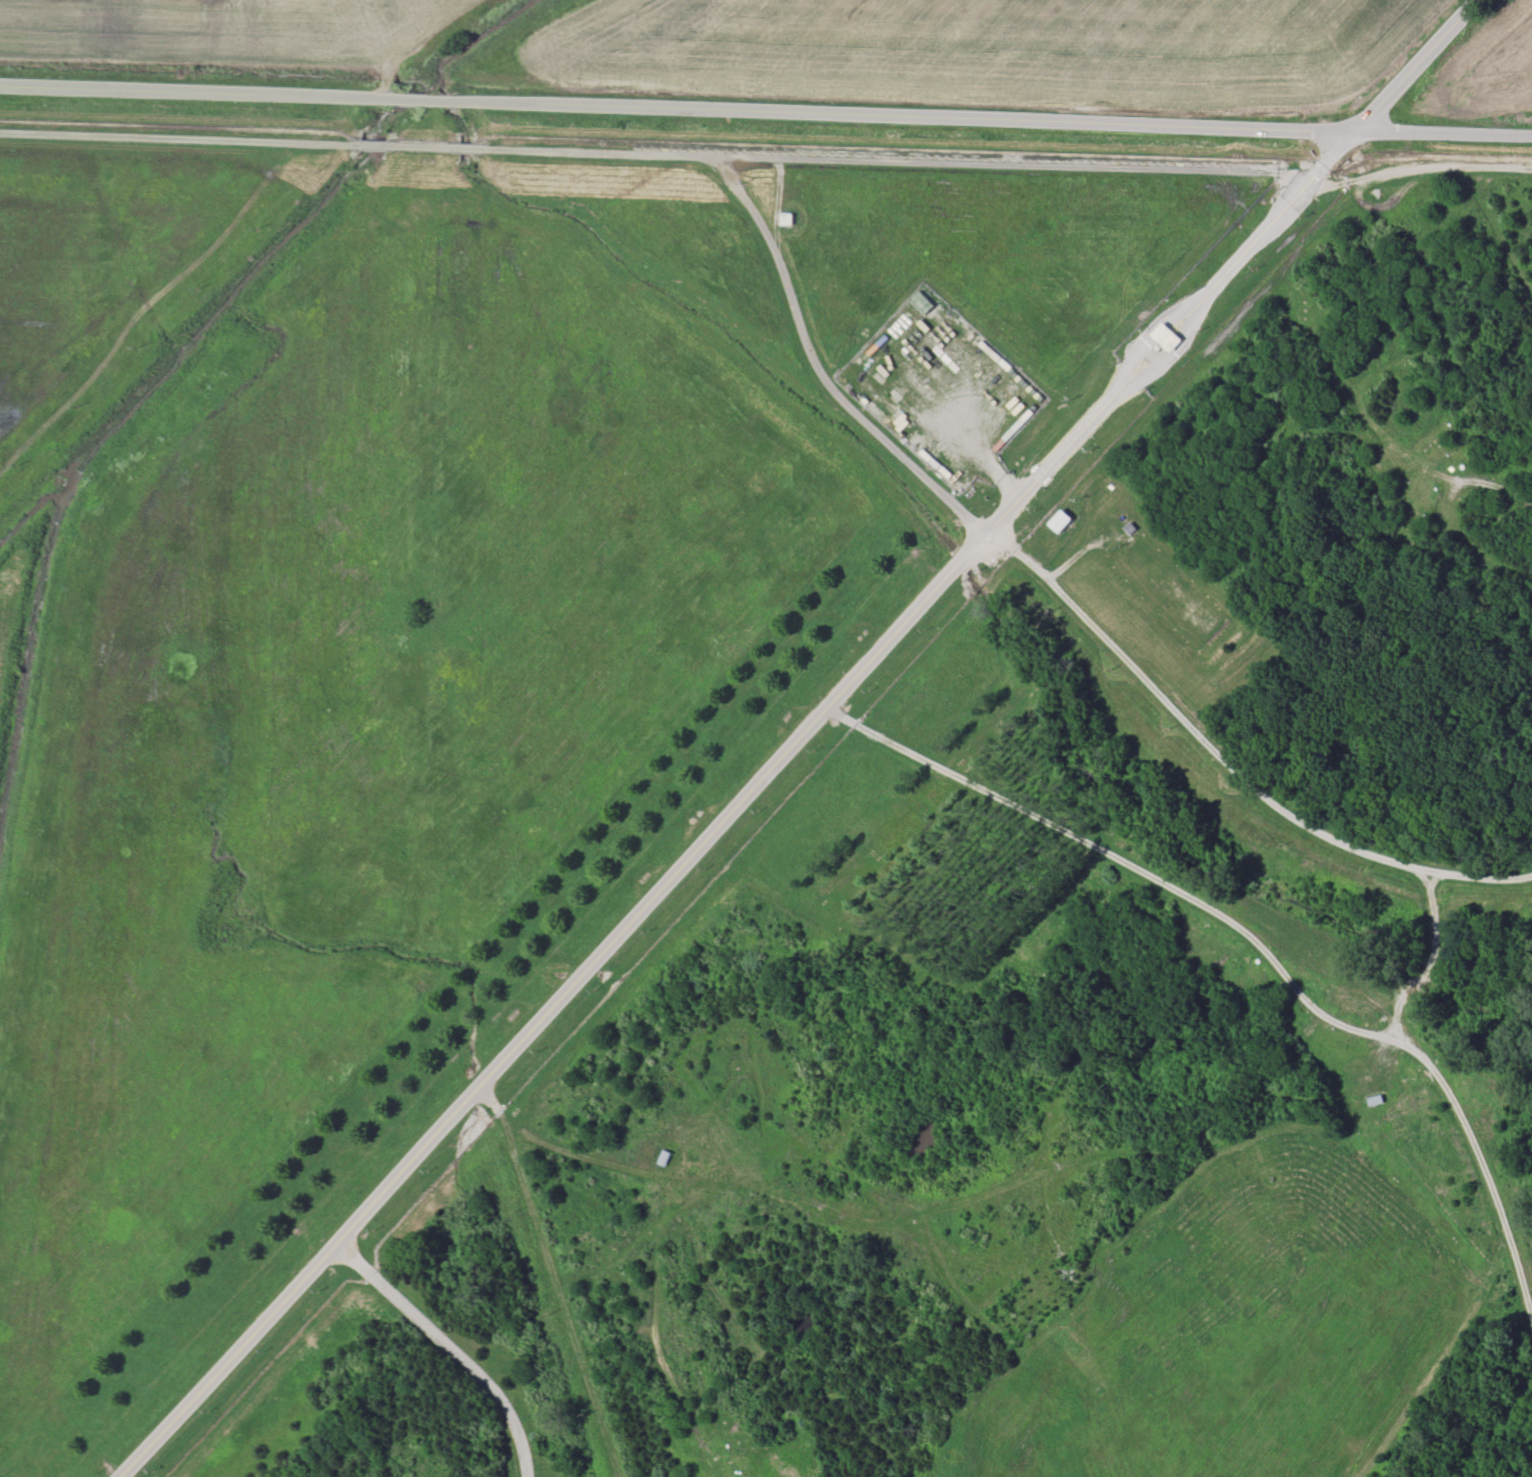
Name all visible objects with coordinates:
crop: (229, 30)
crop: (993, 46)
road: (1414, 68)
crop: (1480, 74)
road: (676, 109)
road: (1441, 133)
road: (179, 138)
road: (372, 144)
road: (1337, 150)
road: (961, 164)
road: (1265, 229)
road: (767, 234)
road: (1149, 336)
building: (1166, 337)
road: (1172, 358)
road: (850, 407)
road: (1478, 481)
building: (1059, 521)
road: (1227, 764)
road: (1116, 861)
road: (614, 937)
road: (1431, 958)
road: (1482, 1165)
road: (447, 1347)

